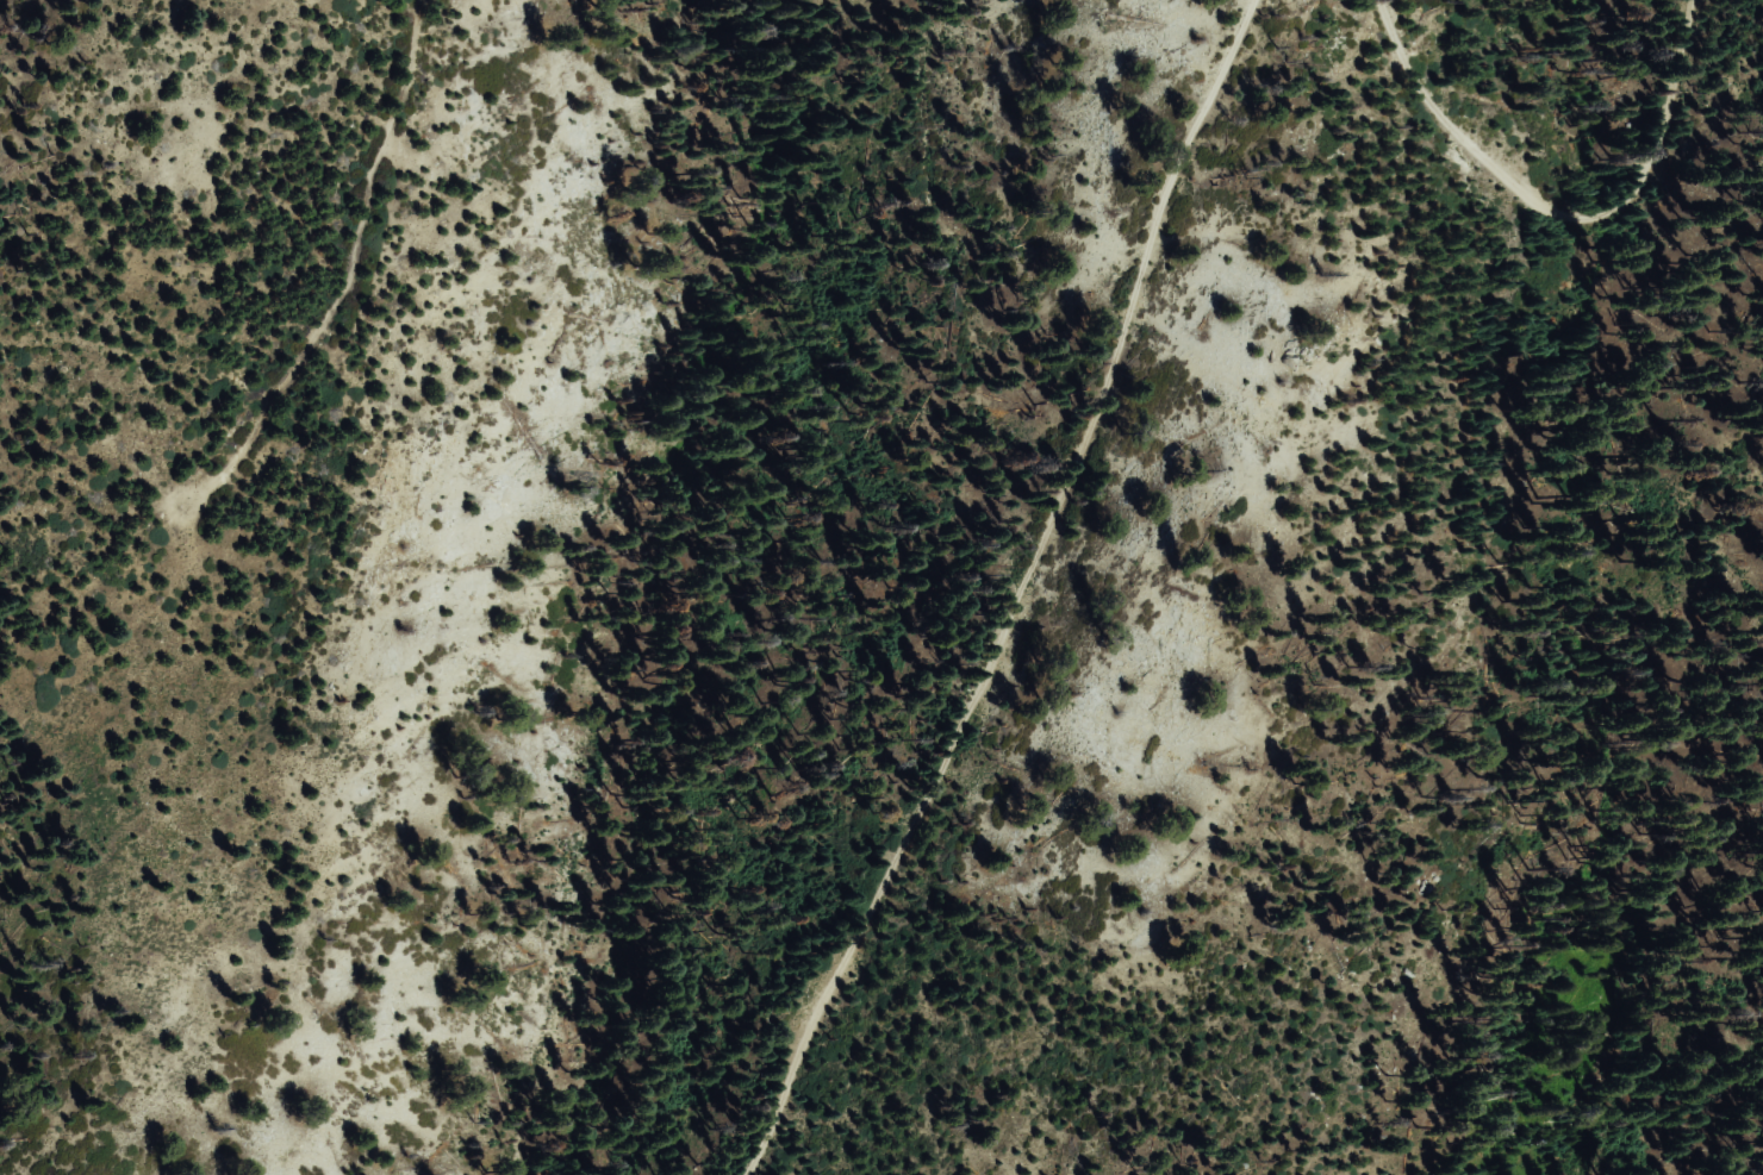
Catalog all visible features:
road: (1558, 217)
road: (367, 273)
road: (1027, 600)

